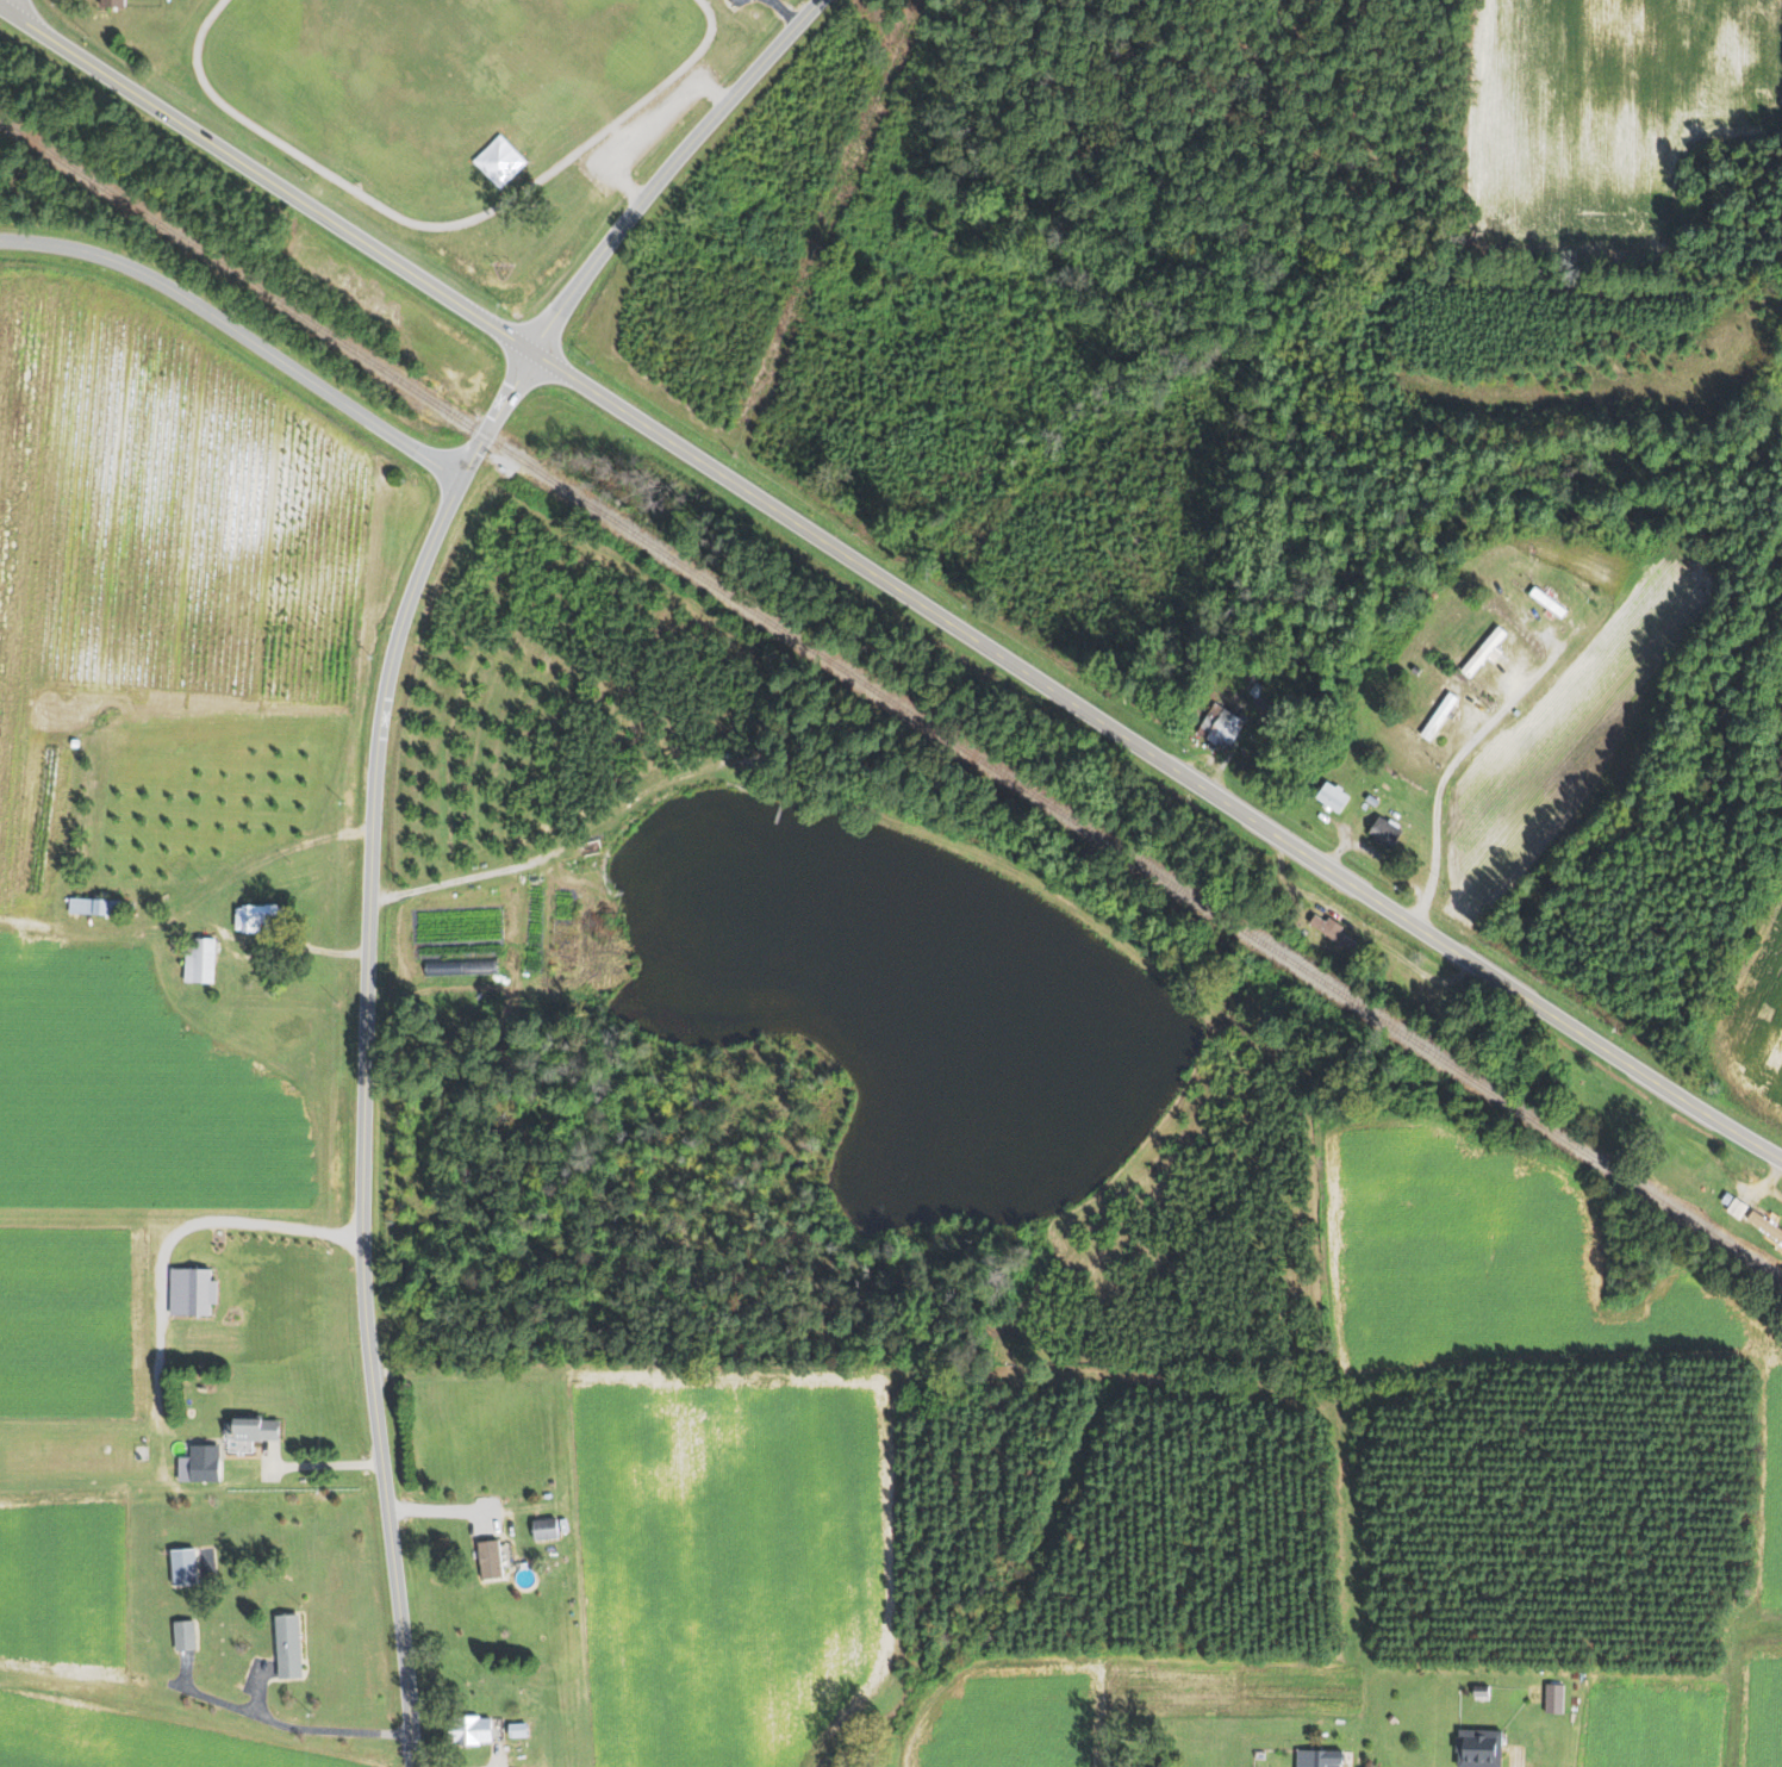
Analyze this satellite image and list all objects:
building: (107, 2)
road: (7, 5)
park: (438, 88)
road: (237, 332)
road: (889, 584)
building: (1481, 653)
railway: (890, 699)
building: (1437, 716)
building: (1217, 726)
road: (1452, 772)
building: (1328, 795)
pier: (779, 810)
road: (370, 814)
building: (1379, 828)
road: (457, 882)
building: (98, 906)
road: (195, 906)
building: (250, 916)
road: (95, 928)
building: (1328, 929)
building: (195, 959)
building: (1733, 1207)
road: (254, 1213)
crop: (1514, 1278)
building: (188, 1290)
building: (249, 1427)
building: (197, 1463)
building: (541, 1528)
building: (486, 1558)
building: (180, 1564)
building: (181, 1634)
building: (285, 1645)
road: (1732, 1678)
building: (1535, 1692)
crop: (1103, 1703)
crop: (1758, 1706)
crop: (1651, 1716)
road: (289, 1725)
building: (466, 1730)
building: (1478, 1748)
building: (1319, 1757)
road: (1515, 1760)

